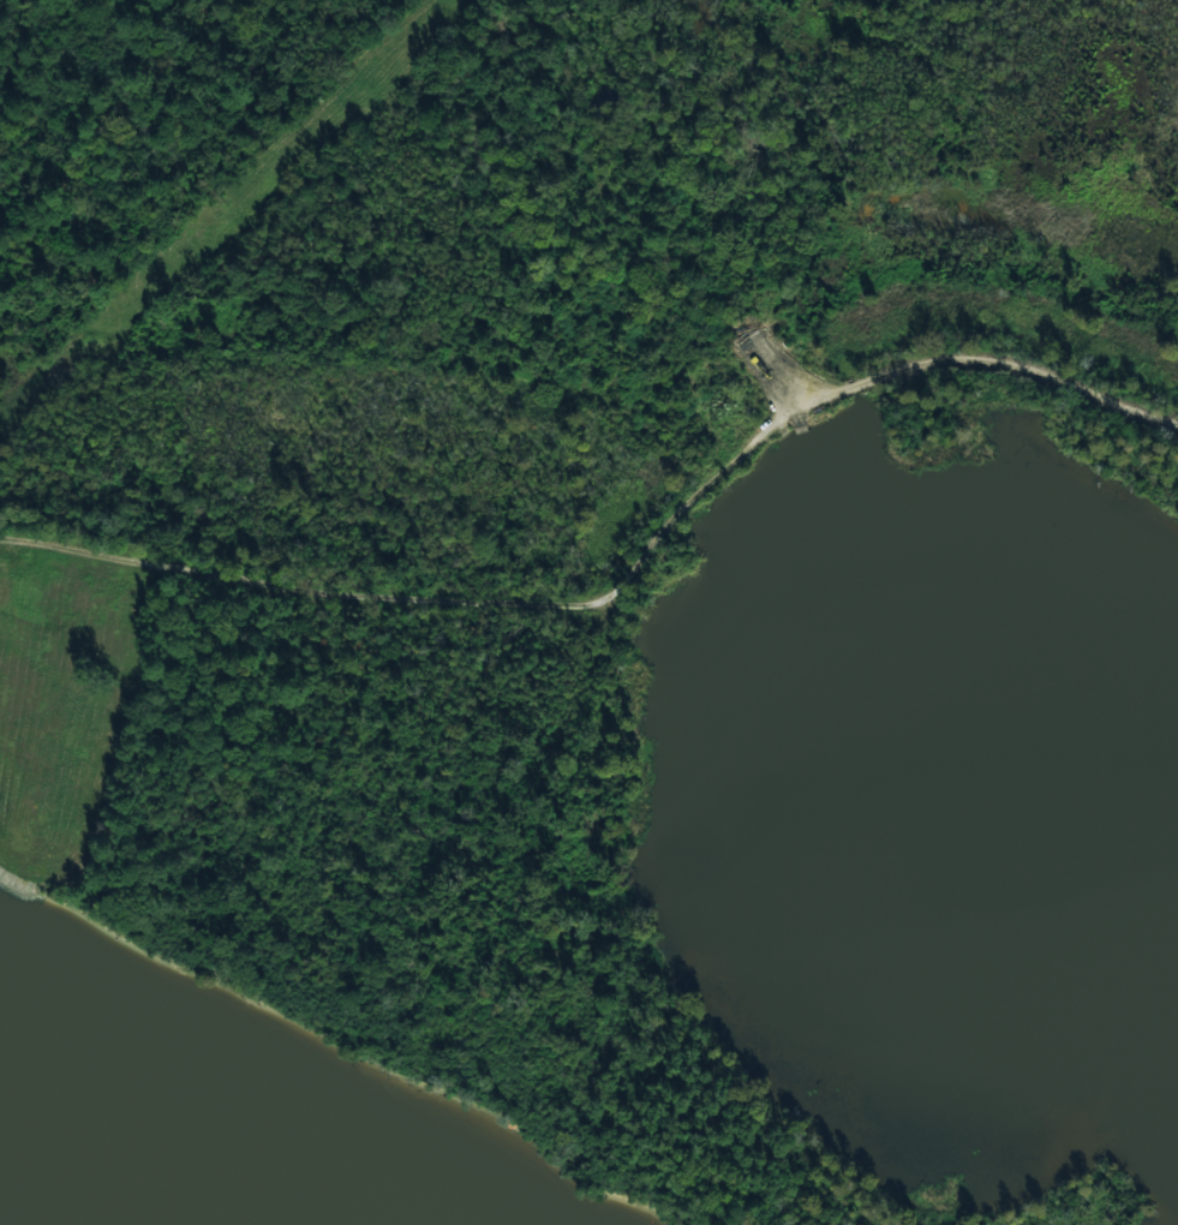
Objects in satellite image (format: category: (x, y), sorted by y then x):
road: (627, 572)
road: (543, 991)
river: (90, 1179)

